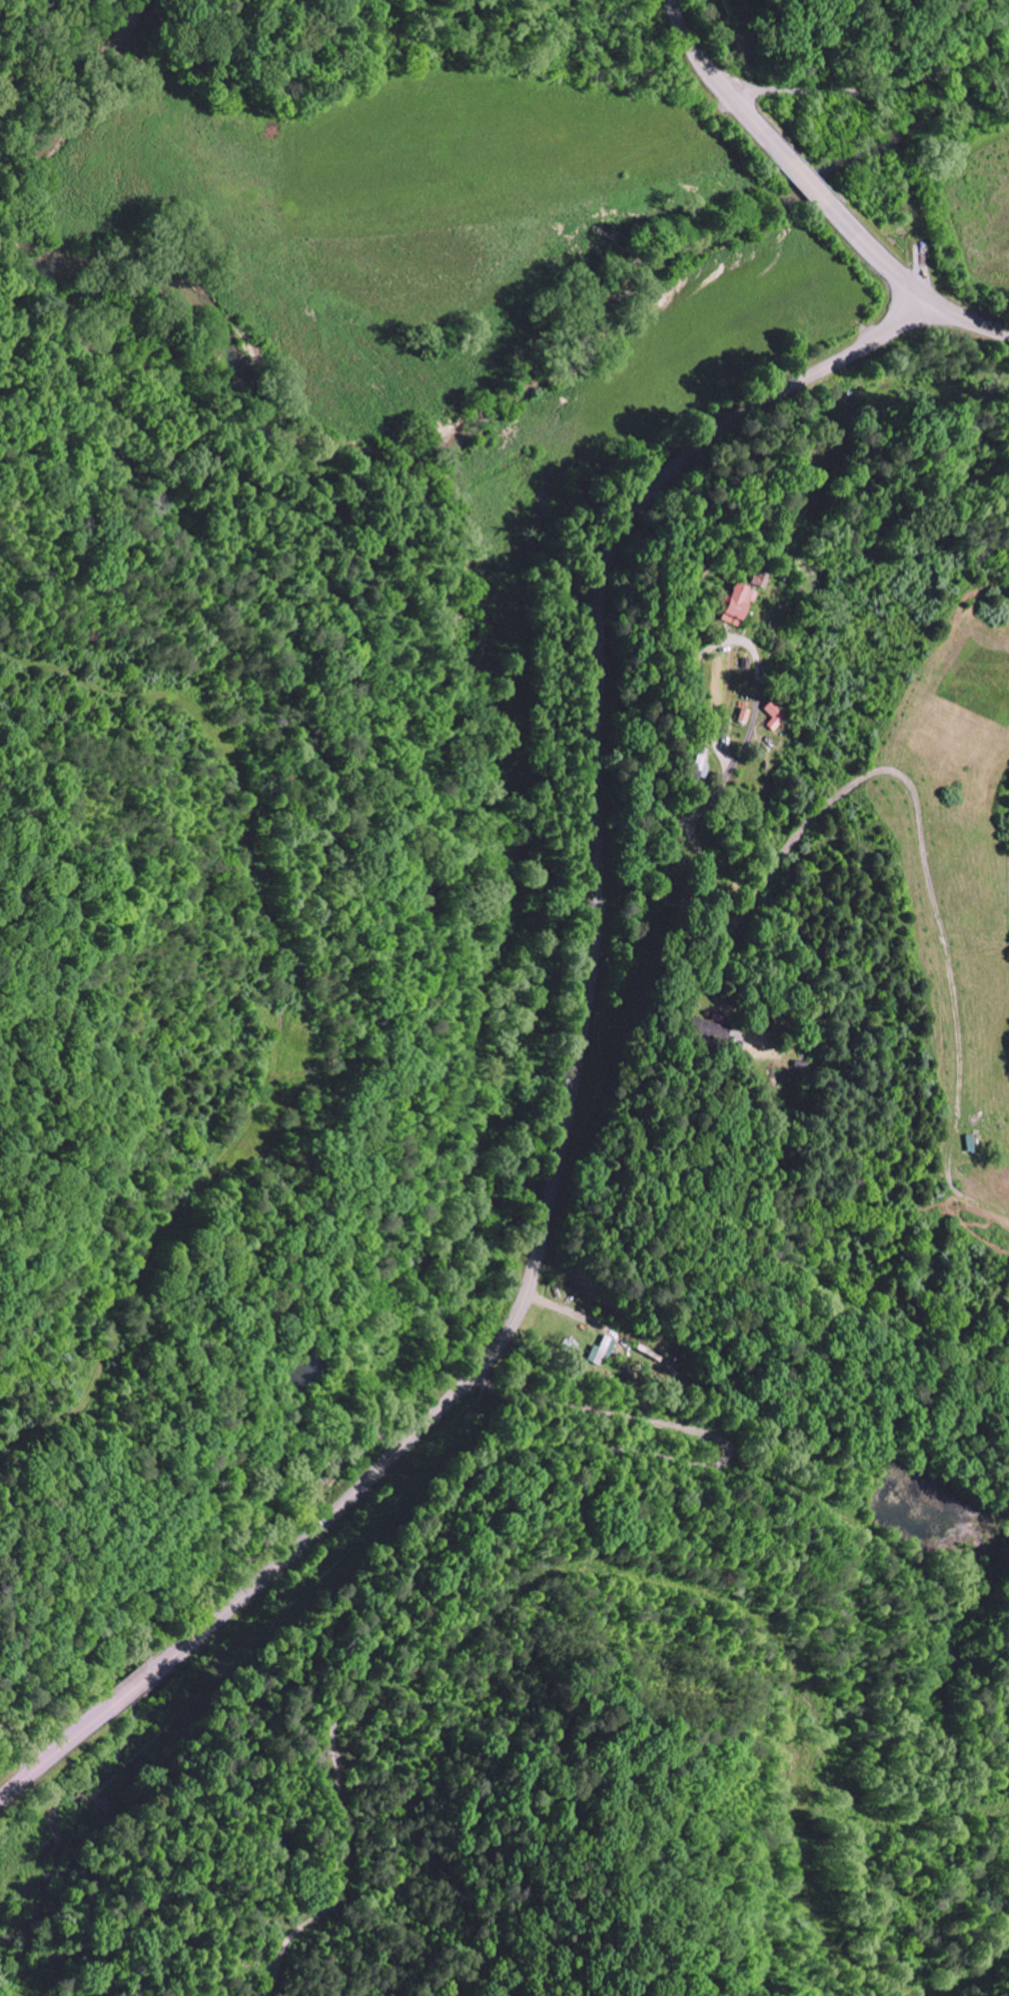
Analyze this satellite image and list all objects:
road: (722, 87)
road: (867, 96)
road: (810, 185)
road: (871, 253)
road: (960, 316)
building: (759, 577)
building: (733, 605)
building: (775, 714)
road: (706, 804)
road: (747, 994)
road: (571, 1088)
building: (602, 1350)
road: (961, 1647)

